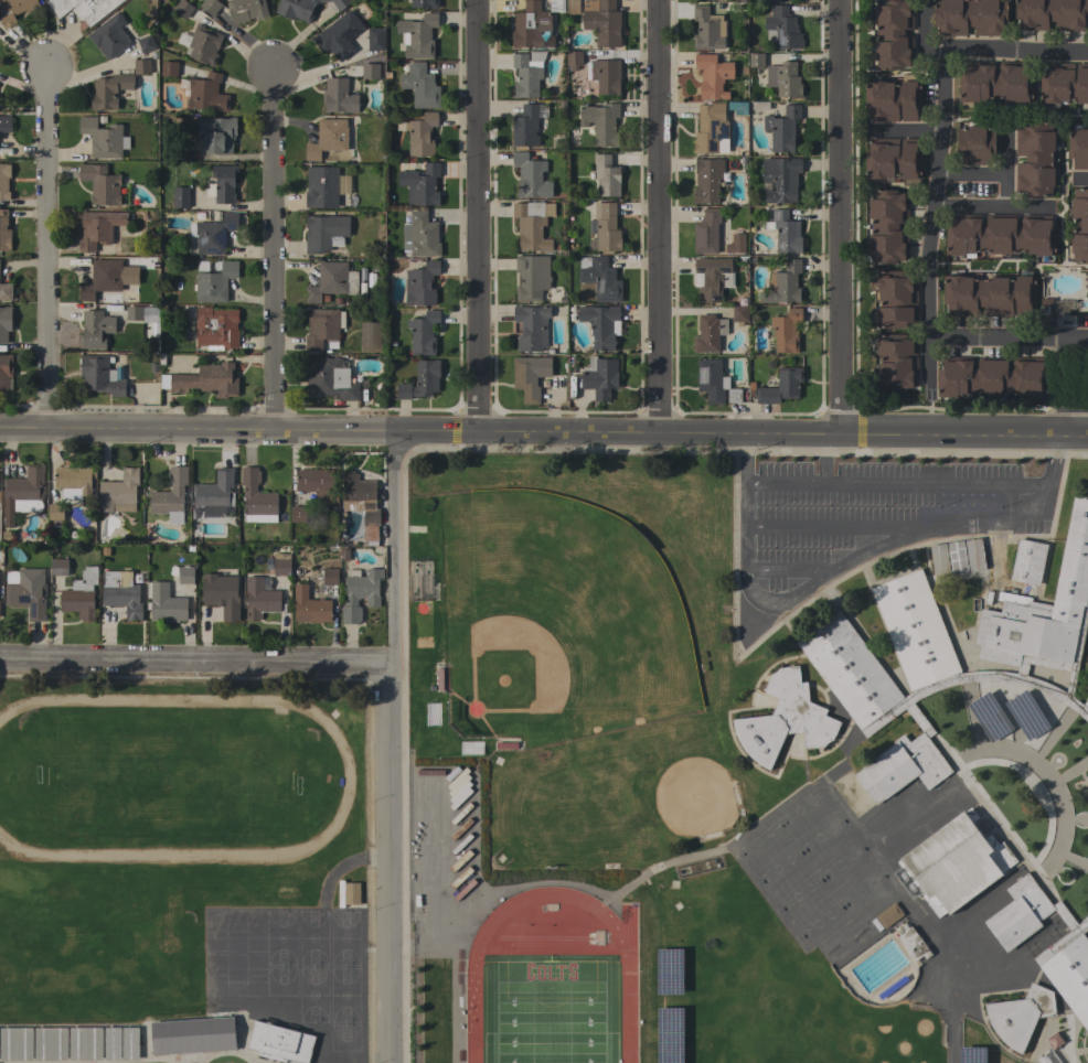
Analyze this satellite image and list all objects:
building: (706, 0)
building: (768, 0)
building: (424, 3)
building: (555, 4)
building: (210, 6)
building: (572, 7)
building: (83, 8)
building: (183, 8)
building: (306, 8)
building: (14, 10)
building: (246, 10)
building: (1052, 13)
building: (970, 17)
building: (604, 23)
building: (532, 26)
building: (783, 28)
building: (707, 29)
building: (893, 34)
building: (110, 35)
building: (339, 35)
building: (418, 35)
building: (375, 39)
building: (146, 43)
building: (201, 44)
building: (574, 58)
building: (756, 60)
building: (142, 66)
building: (171, 68)
building: (370, 71)
building: (527, 73)
building: (712, 75)
building: (606, 76)
building: (785, 79)
building: (998, 83)
building: (1063, 84)
building: (420, 86)
building: (109, 90)
building: (205, 93)
building: (339, 96)
building: (890, 98)
building: (601, 122)
building: (6, 124)
building: (525, 127)
building: (711, 129)
building: (782, 129)
road: (904, 131)
building: (216, 133)
building: (420, 133)
building: (103, 138)
building: (329, 138)
building: (975, 143)
road: (937, 146)
building: (1078, 146)
road: (1002, 151)
building: (1034, 159)
building: (892, 160)
road: (986, 171)
building: (606, 175)
building: (531, 176)
building: (781, 179)
road: (1082, 179)
building: (707, 180)
building: (4, 182)
building: (223, 183)
building: (102, 184)
building: (420, 184)
building: (321, 186)
building: (181, 196)
road: (988, 208)
road: (474, 213)
road: (658, 214)
road: (836, 214)
building: (199, 216)
building: (215, 216)
building: (532, 224)
building: (1079, 225)
building: (888, 226)
building: (98, 228)
building: (607, 228)
building: (785, 230)
building: (4, 232)
building: (706, 232)
building: (324, 233)
building: (1000, 234)
building: (214, 235)
building: (423, 235)
road: (46, 243)
building: (735, 244)
road: (271, 246)
building: (532, 277)
building: (600, 277)
building: (108, 278)
building: (712, 278)
building: (213, 281)
building: (332, 281)
building: (783, 283)
building: (420, 284)
building: (6, 291)
building: (128, 291)
building: (991, 294)
building: (895, 300)
building: (1045, 308)
building: (134, 313)
building: (739, 313)
building: (6, 323)
building: (600, 325)
building: (531, 326)
building: (216, 328)
building: (95, 329)
building: (323, 329)
building: (786, 330)
building: (423, 333)
building: (708, 333)
building: (152, 334)
building: (371, 336)
road: (1007, 337)
building: (160, 359)
building: (895, 363)
building: (152, 368)
building: (6, 371)
building: (99, 375)
building: (530, 376)
building: (598, 377)
building: (992, 377)
building: (329, 378)
building: (204, 379)
building: (422, 380)
building: (714, 382)
road: (1062, 384)
road: (1082, 384)
building: (781, 386)
building: (750, 388)
road: (195, 422)
road: (739, 429)
building: (73, 480)
road: (895, 481)
building: (316, 482)
building: (292, 486)
building: (119, 493)
road: (1042, 493)
building: (22, 494)
building: (216, 495)
building: (170, 496)
building: (359, 496)
building: (257, 497)
building: (195, 513)
road: (744, 513)
building: (55, 514)
building: (298, 514)
road: (856, 524)
building: (291, 531)
building: (369, 534)
building: (73, 535)
building: (190, 548)
building: (104, 551)
road: (865, 554)
building: (343, 555)
building: (954, 556)
building: (1028, 561)
building: (281, 565)
building: (58, 567)
road: (791, 567)
building: (185, 573)
building: (330, 577)
building: (26, 591)
building: (121, 592)
building: (360, 593)
building: (221, 594)
building: (79, 595)
building: (260, 599)
building: (166, 604)
building: (310, 606)
building: (1043, 606)
park: (576, 613)
building: (915, 630)
road: (198, 659)
building: (1059, 666)
building: (849, 669)
building: (1086, 702)
building: (783, 719)
road: (396, 744)
building: (1075, 745)
building: (902, 766)
building: (1087, 777)
track: (169, 783)
park: (694, 799)
building: (1087, 858)
road: (346, 862)
building: (953, 865)
road: (657, 868)
building: (340, 893)
building: (352, 893)
building: (1018, 913)
building: (888, 915)
building: (1075, 932)
building: (913, 944)
track: (465, 971)
building: (1070, 977)
building: (1020, 1016)
building: (419, 1028)
building: (192, 1035)
road: (950, 1040)
building: (15, 1043)
building: (50, 1043)
building: (85, 1043)
building: (111, 1043)
building: (129, 1043)
building: (279, 1043)
building: (1068, 1045)
park: (746, 1048)
building: (418, 1059)

